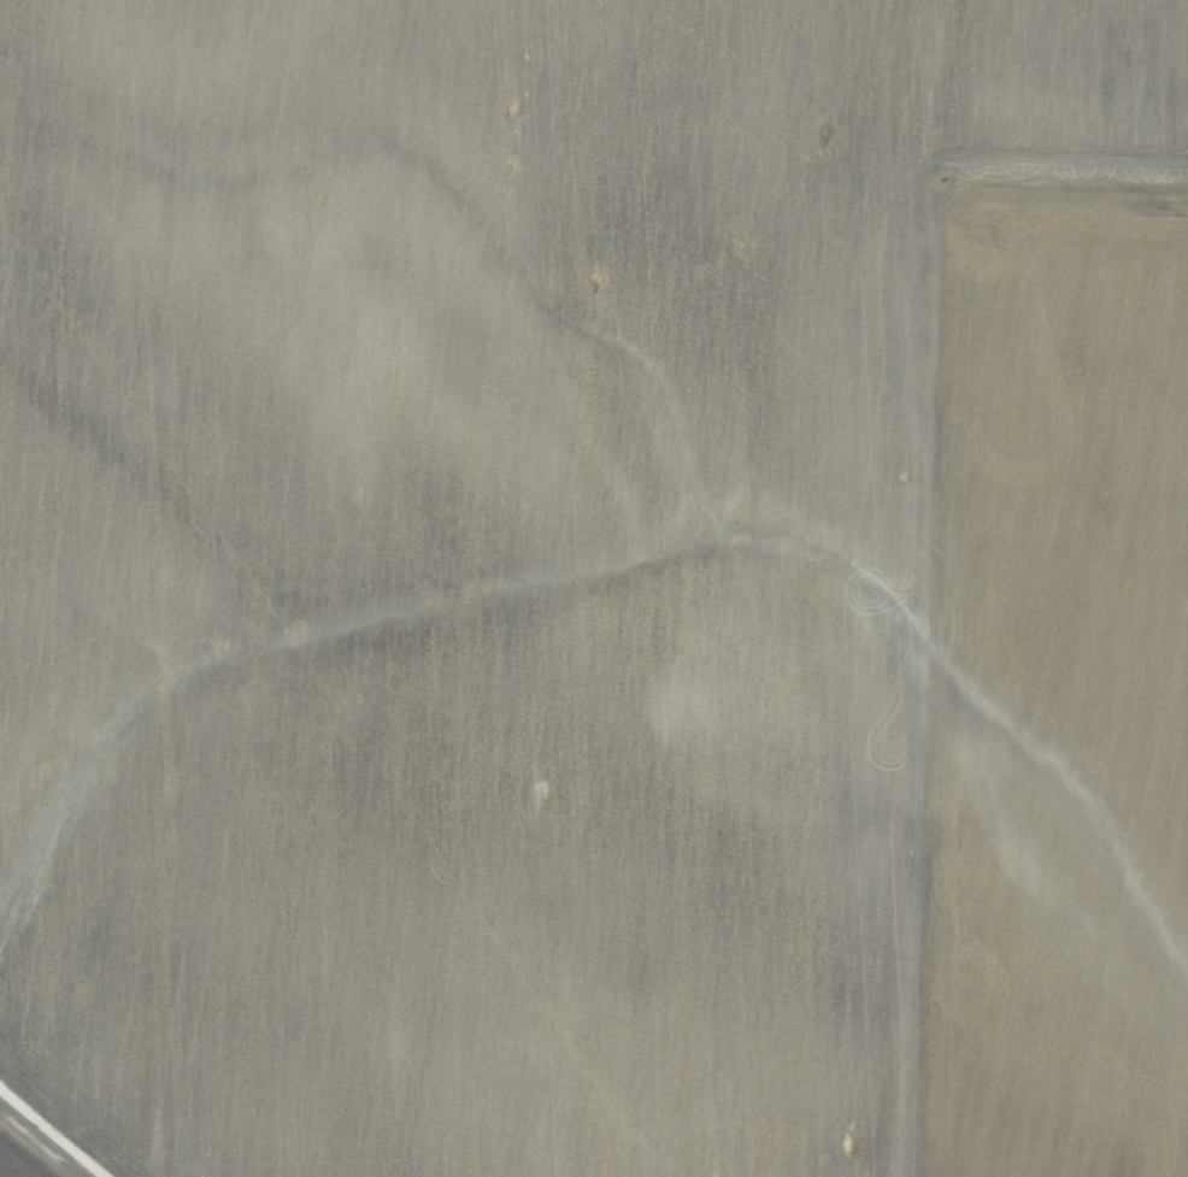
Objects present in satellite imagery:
road: (930, 88)

